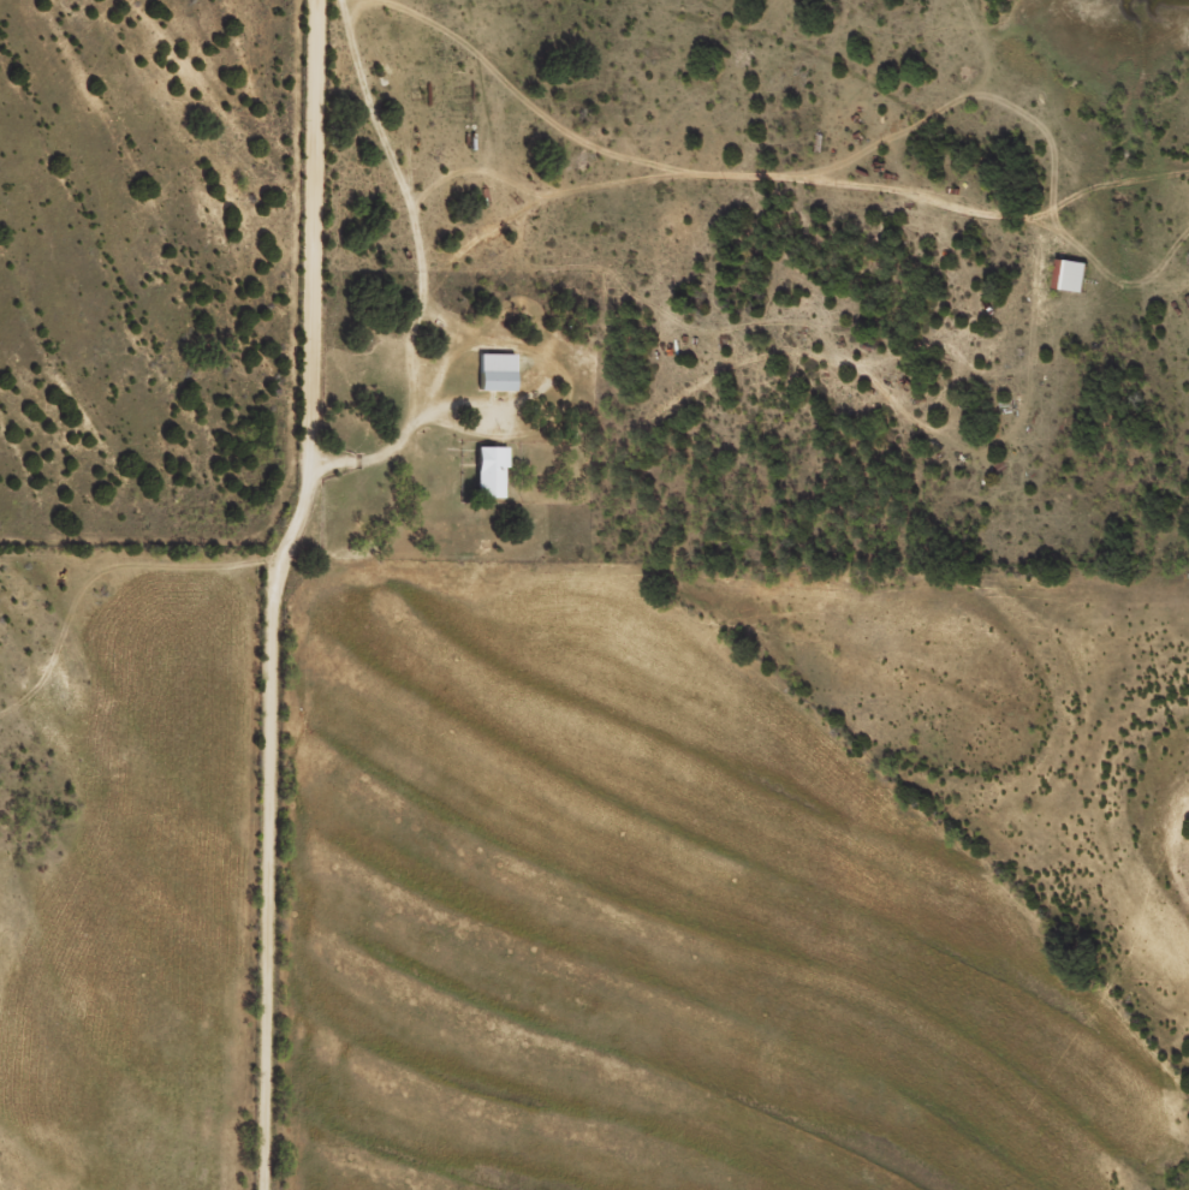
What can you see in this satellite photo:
road: (695, 177)
road: (426, 260)
building: (1074, 285)
building: (491, 482)
road: (284, 594)

